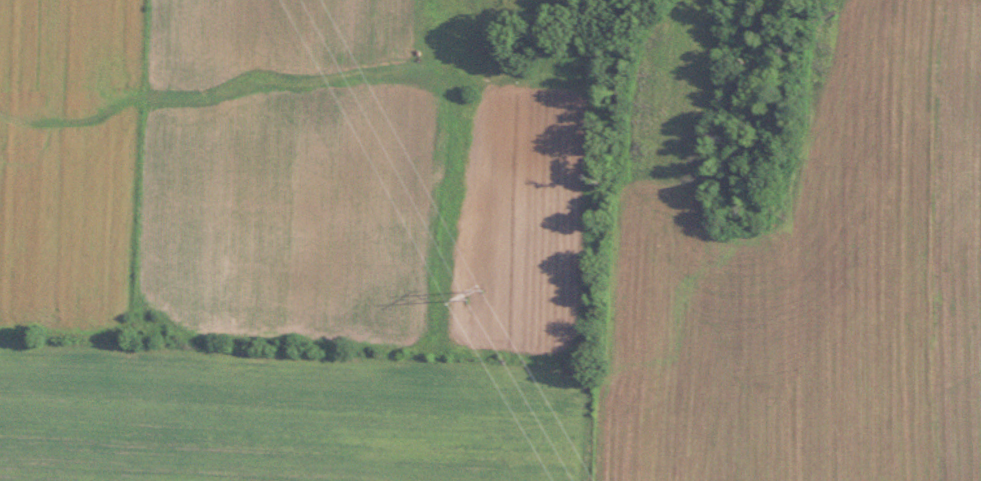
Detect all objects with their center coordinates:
power tower: (478, 294)

